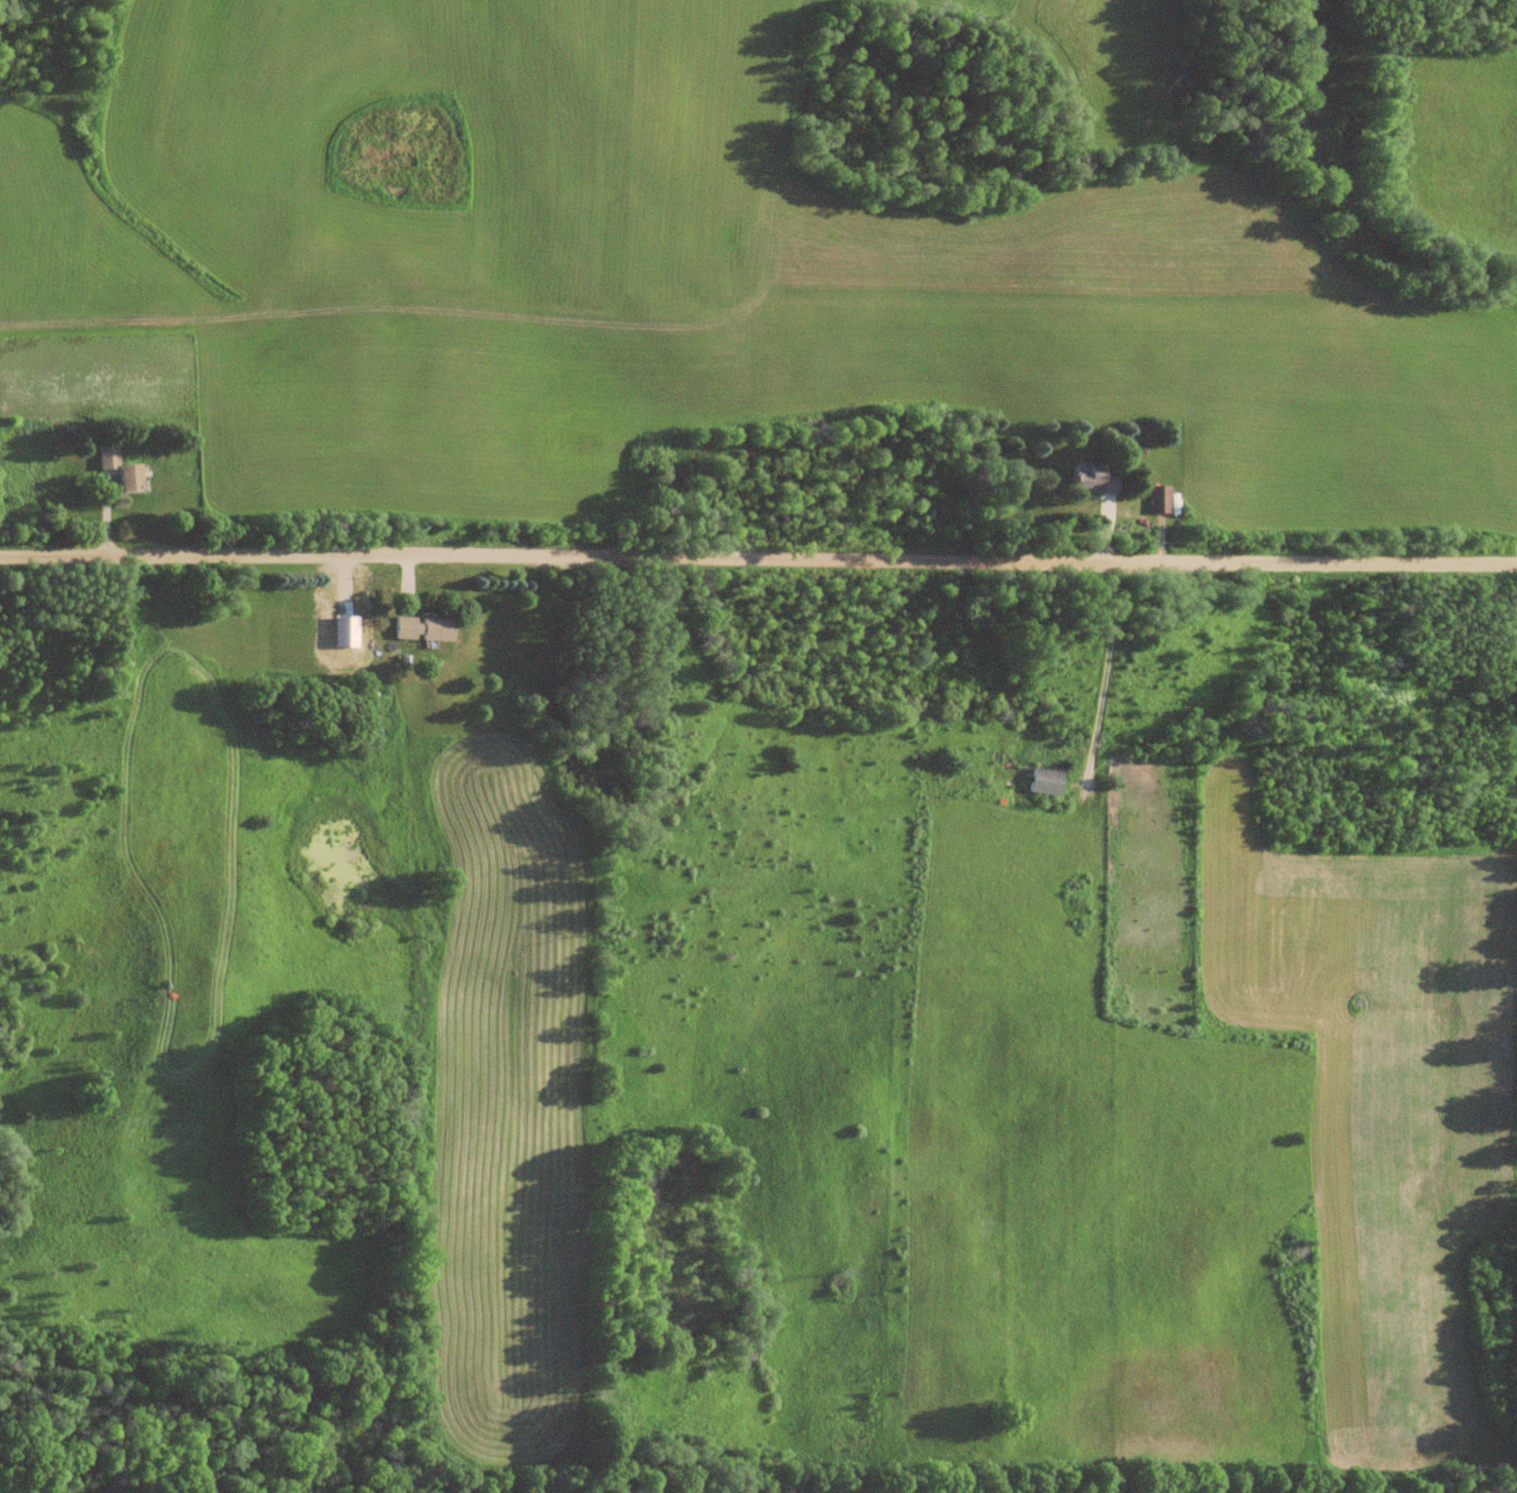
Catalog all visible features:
building: (109, 457)
building: (133, 478)
building: (1095, 480)
building: (1161, 499)
road: (758, 555)
building: (427, 628)
building: (1046, 781)

